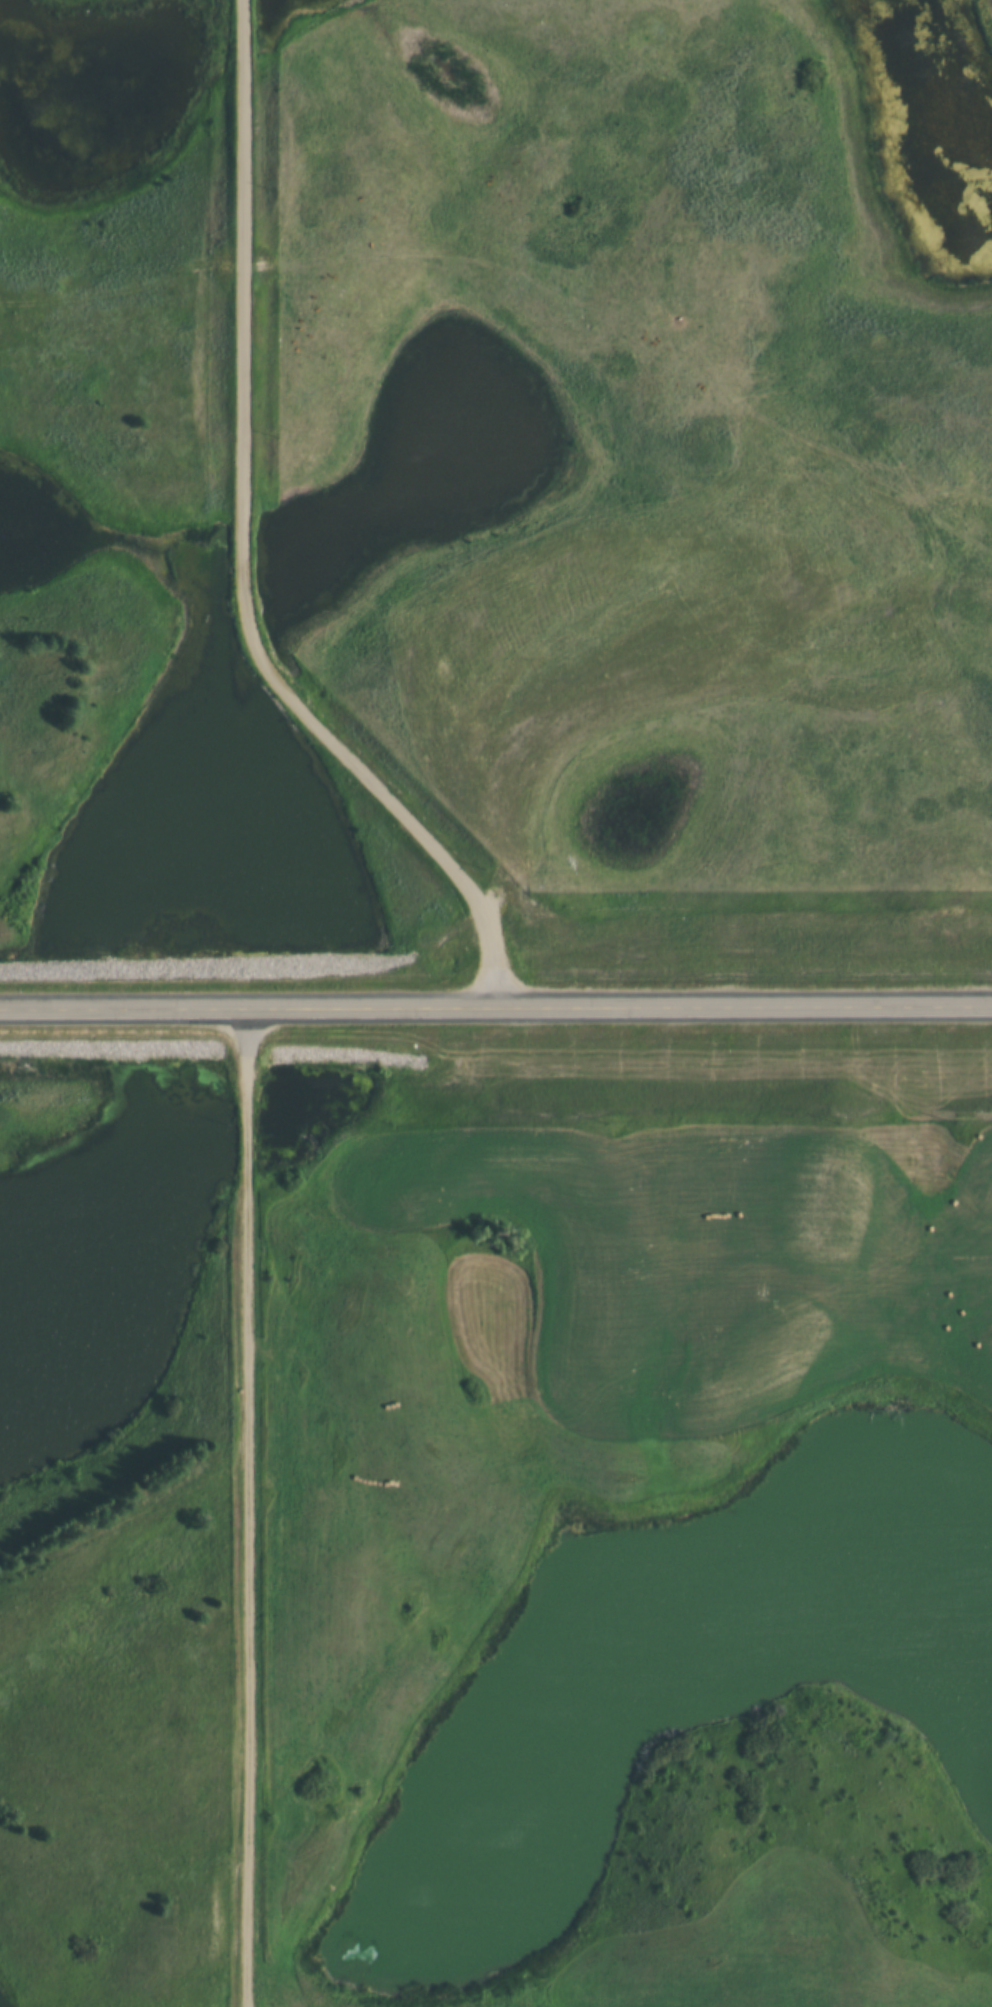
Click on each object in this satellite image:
road: (245, 545)
road: (496, 1004)
road: (253, 1505)

